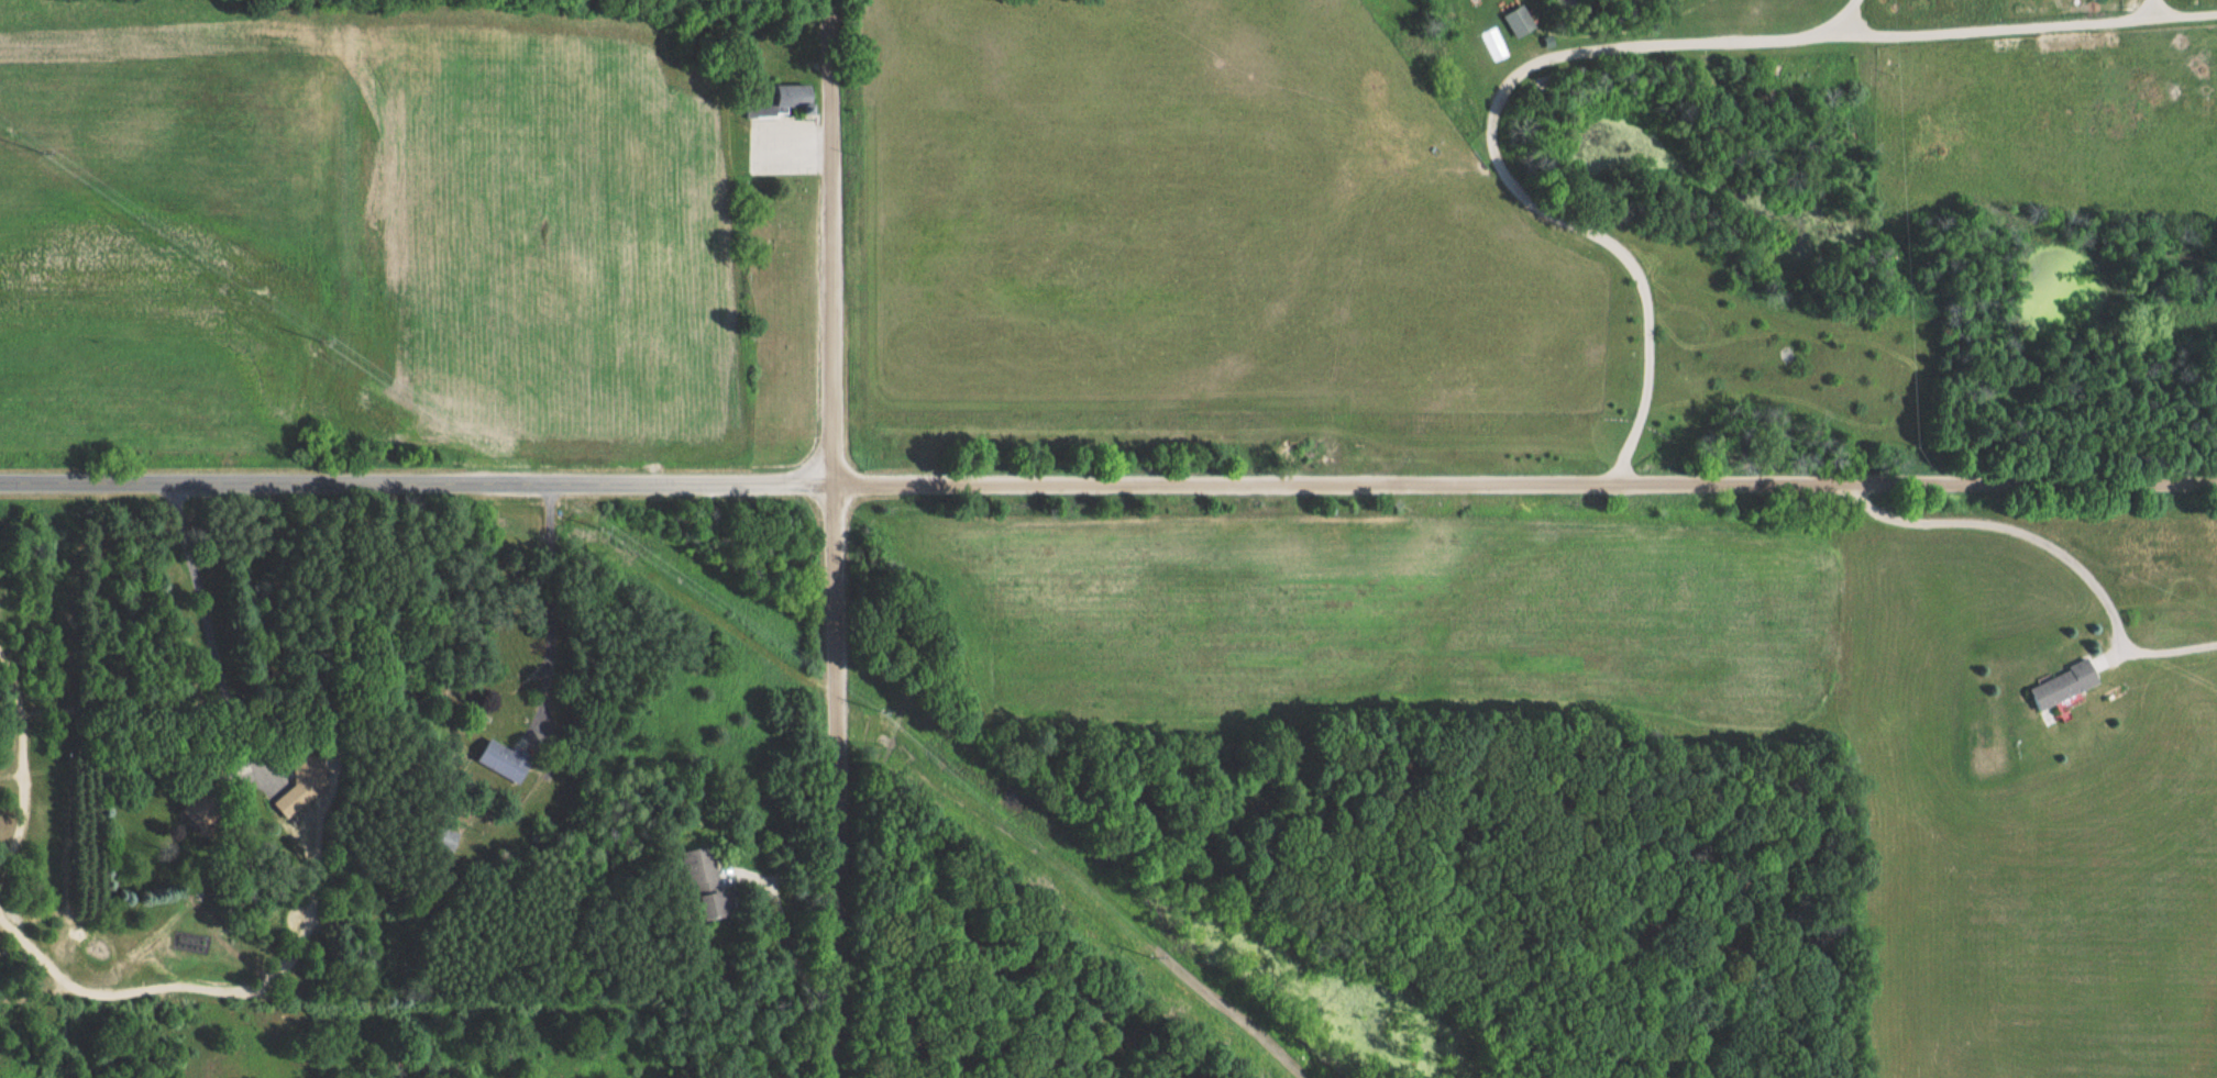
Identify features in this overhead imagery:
road: (1851, 13)
building: (1522, 21)
road: (2003, 23)
building: (799, 96)
building: (764, 111)
road: (1492, 149)
road: (830, 241)
road: (416, 484)
road: (1524, 485)
road: (551, 598)
road: (210, 633)
building: (2067, 686)
building: (508, 760)
road: (834, 779)
building: (295, 800)
building: (714, 881)

